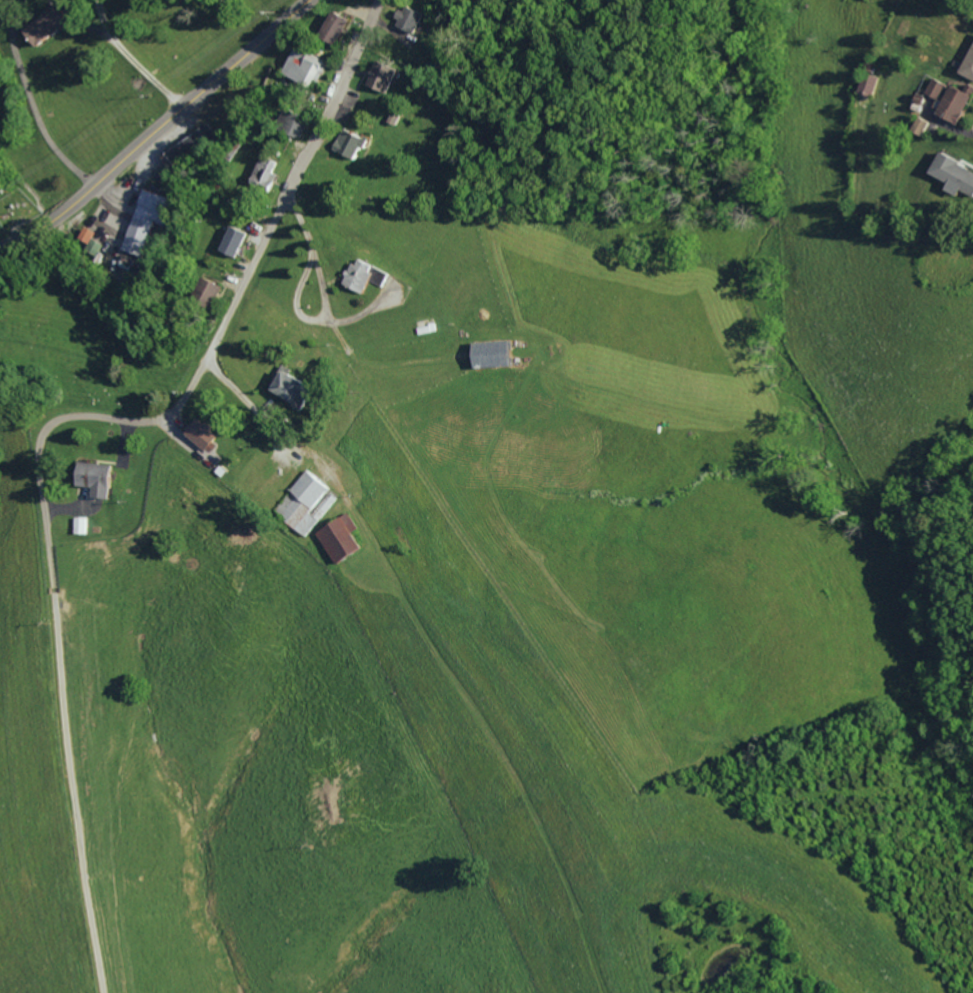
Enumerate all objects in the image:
building: (412, 19)
building: (49, 24)
building: (335, 26)
building: (964, 61)
building: (306, 67)
building: (384, 76)
building: (867, 84)
building: (943, 99)
building: (911, 100)
building: (956, 103)
building: (396, 118)
building: (297, 123)
building: (911, 124)
building: (921, 125)
road: (155, 128)
building: (353, 143)
building: (188, 148)
building: (263, 172)
building: (947, 173)
building: (146, 219)
building: (85, 233)
building: (235, 240)
building: (365, 275)
building: (210, 290)
road: (325, 294)
building: (500, 354)
park: (100, 383)
building: (300, 389)
road: (56, 421)
building: (208, 434)
building: (100, 477)
building: (311, 501)
building: (83, 524)
building: (346, 538)

